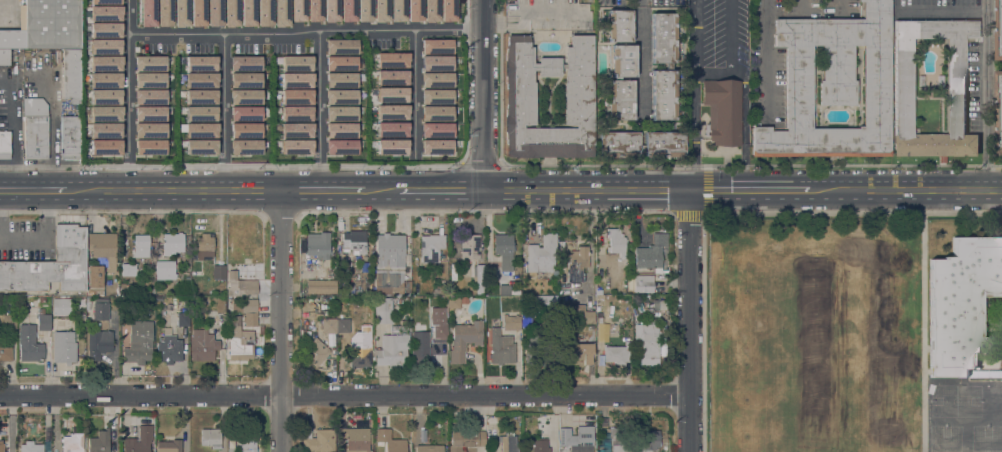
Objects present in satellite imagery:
building: (102, 4)
building: (298, 10)
building: (314, 10)
building: (331, 10)
building: (347, 10)
building: (364, 10)
building: (381, 10)
building: (397, 10)
building: (414, 10)
building: (431, 10)
building: (447, 10)
building: (144, 12)
building: (161, 12)
building: (198, 12)
building: (214, 12)
building: (247, 12)
building: (264, 12)
building: (181, 13)
building: (231, 13)
building: (281, 13)
building: (549, 15)
building: (102, 17)
building: (45, 26)
building: (620, 26)
road: (366, 29)
building: (999, 30)
building: (102, 34)
road: (696, 35)
road: (222, 36)
building: (340, 46)
building: (436, 46)
building: (102, 50)
road: (732, 54)
road: (766, 54)
building: (4, 56)
road: (414, 58)
building: (392, 59)
building: (340, 62)
building: (435, 62)
building: (200, 63)
building: (244, 63)
building: (296, 63)
building: (563, 65)
building: (102, 66)
building: (150, 66)
building: (668, 66)
building: (71, 74)
building: (392, 76)
building: (200, 79)
building: (245, 79)
building: (296, 79)
building: (340, 79)
building: (435, 79)
building: (150, 82)
building: (103, 83)
building: (621, 83)
building: (833, 85)
building: (904, 86)
building: (391, 94)
road: (985, 94)
road: (127, 95)
road: (483, 95)
building: (201, 96)
building: (244, 96)
building: (296, 96)
building: (340, 96)
building: (436, 96)
building: (150, 98)
building: (520, 98)
building: (103, 99)
road: (318, 109)
building: (392, 111)
building: (723, 111)
building: (340, 112)
building: (435, 112)
building: (999, 112)
building: (200, 113)
road: (222, 113)
building: (245, 113)
building: (296, 113)
building: (150, 115)
building: (103, 116)
building: (35, 128)
building: (200, 129)
building: (296, 129)
building: (340, 129)
building: (392, 129)
building: (436, 129)
building: (150, 131)
road: (694, 131)
building: (103, 132)
building: (70, 137)
building: (244, 138)
building: (619, 138)
building: (5, 144)
building: (201, 146)
building: (296, 146)
building: (340, 146)
building: (391, 146)
building: (436, 146)
building: (103, 148)
building: (150, 148)
road: (34, 189)
road: (173, 190)
road: (321, 190)
road: (383, 190)
road: (442, 190)
road: (750, 190)
road: (907, 190)
road: (586, 191)
road: (734, 213)
building: (354, 242)
building: (616, 242)
building: (172, 243)
building: (141, 245)
building: (318, 245)
building: (204, 246)
building: (470, 246)
building: (431, 247)
building: (103, 248)
building: (504, 249)
building: (542, 254)
building: (651, 254)
building: (389, 264)
building: (577, 264)
building: (50, 265)
building: (129, 270)
building: (165, 270)
building: (219, 272)
building: (479, 277)
building: (643, 283)
building: (240, 285)
building: (321, 286)
building: (91, 292)
building: (515, 292)
building: (180, 300)
building: (511, 301)
building: (454, 302)
building: (543, 302)
building: (961, 302)
building: (82, 303)
building: (88, 303)
building: (61, 306)
building: (100, 309)
building: (247, 310)
building: (383, 310)
building: (583, 314)
building: (183, 316)
building: (526, 319)
road: (280, 320)
building: (44, 321)
road: (688, 321)
building: (9, 322)
building: (329, 325)
building: (343, 326)
building: (403, 330)
building: (440, 330)
building: (464, 339)
building: (504, 339)
building: (646, 340)
building: (139, 342)
building: (240, 342)
building: (30, 344)
building: (99, 344)
building: (203, 345)
building: (64, 347)
building: (169, 349)
building: (393, 351)
building: (315, 352)
building: (421, 353)
building: (6, 354)
building: (576, 354)
building: (616, 354)
building: (360, 356)
building: (993, 374)
road: (344, 394)
building: (211, 437)
building: (145, 438)
building: (620, 438)
building: (356, 439)
building: (465, 439)
building: (577, 439)
building: (247, 440)
building: (318, 440)
building: (647, 440)
building: (72, 441)
building: (390, 441)
building: (100, 442)
building: (508, 442)
building: (540, 445)
building: (169, 446)
building: (2, 447)
building: (31, 447)
building: (429, 448)

